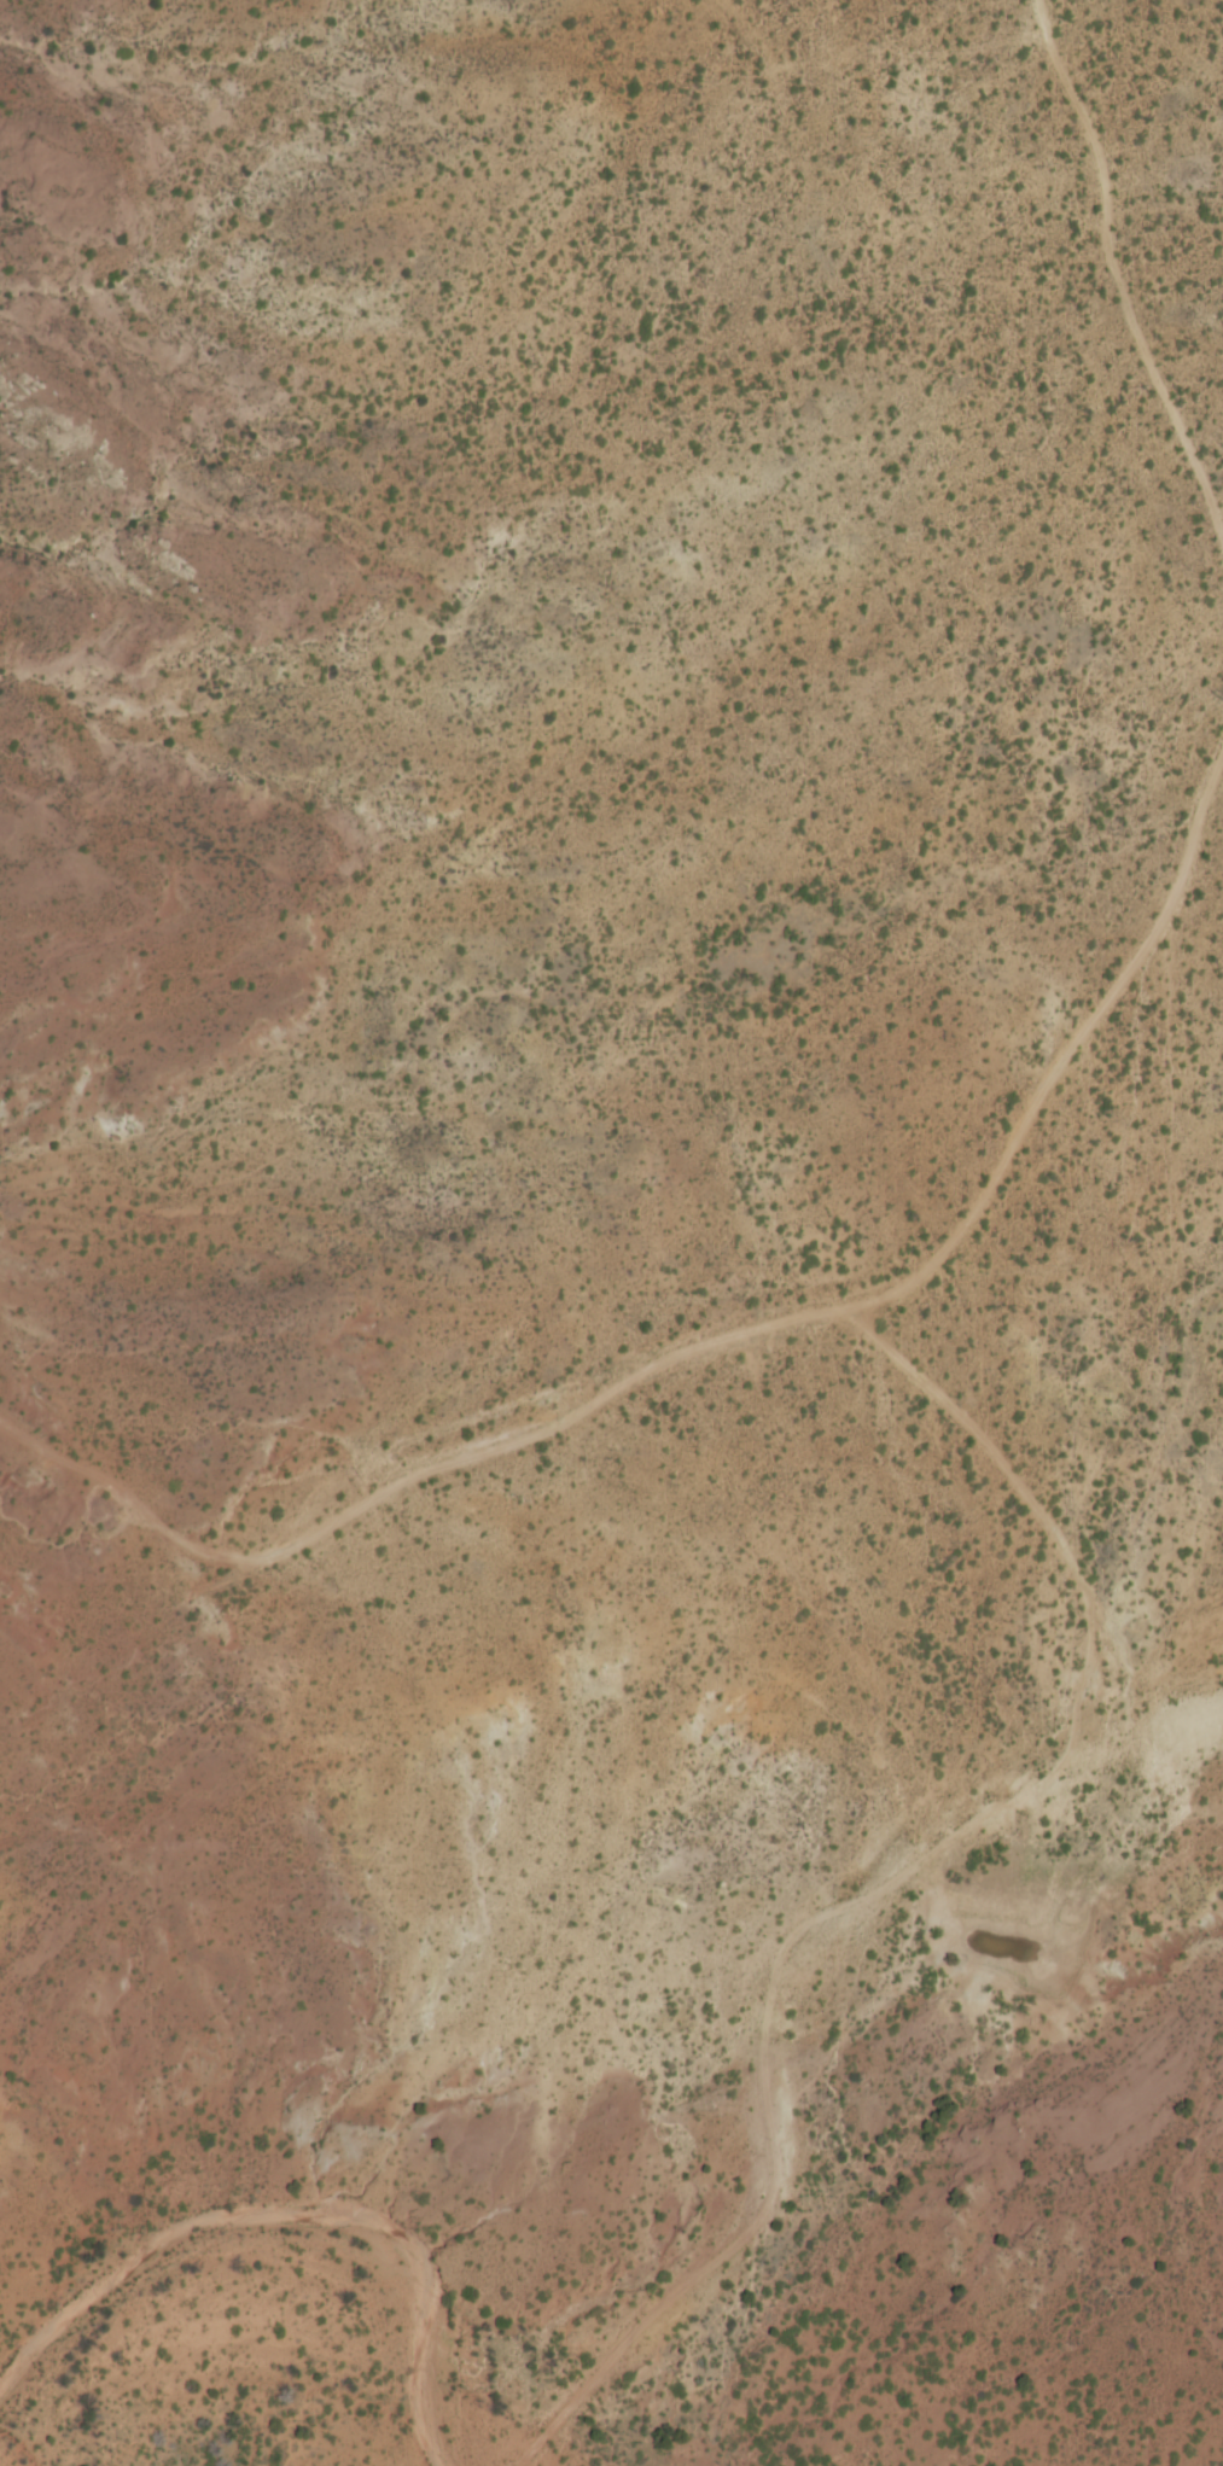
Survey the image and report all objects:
road: (740, 1314)

